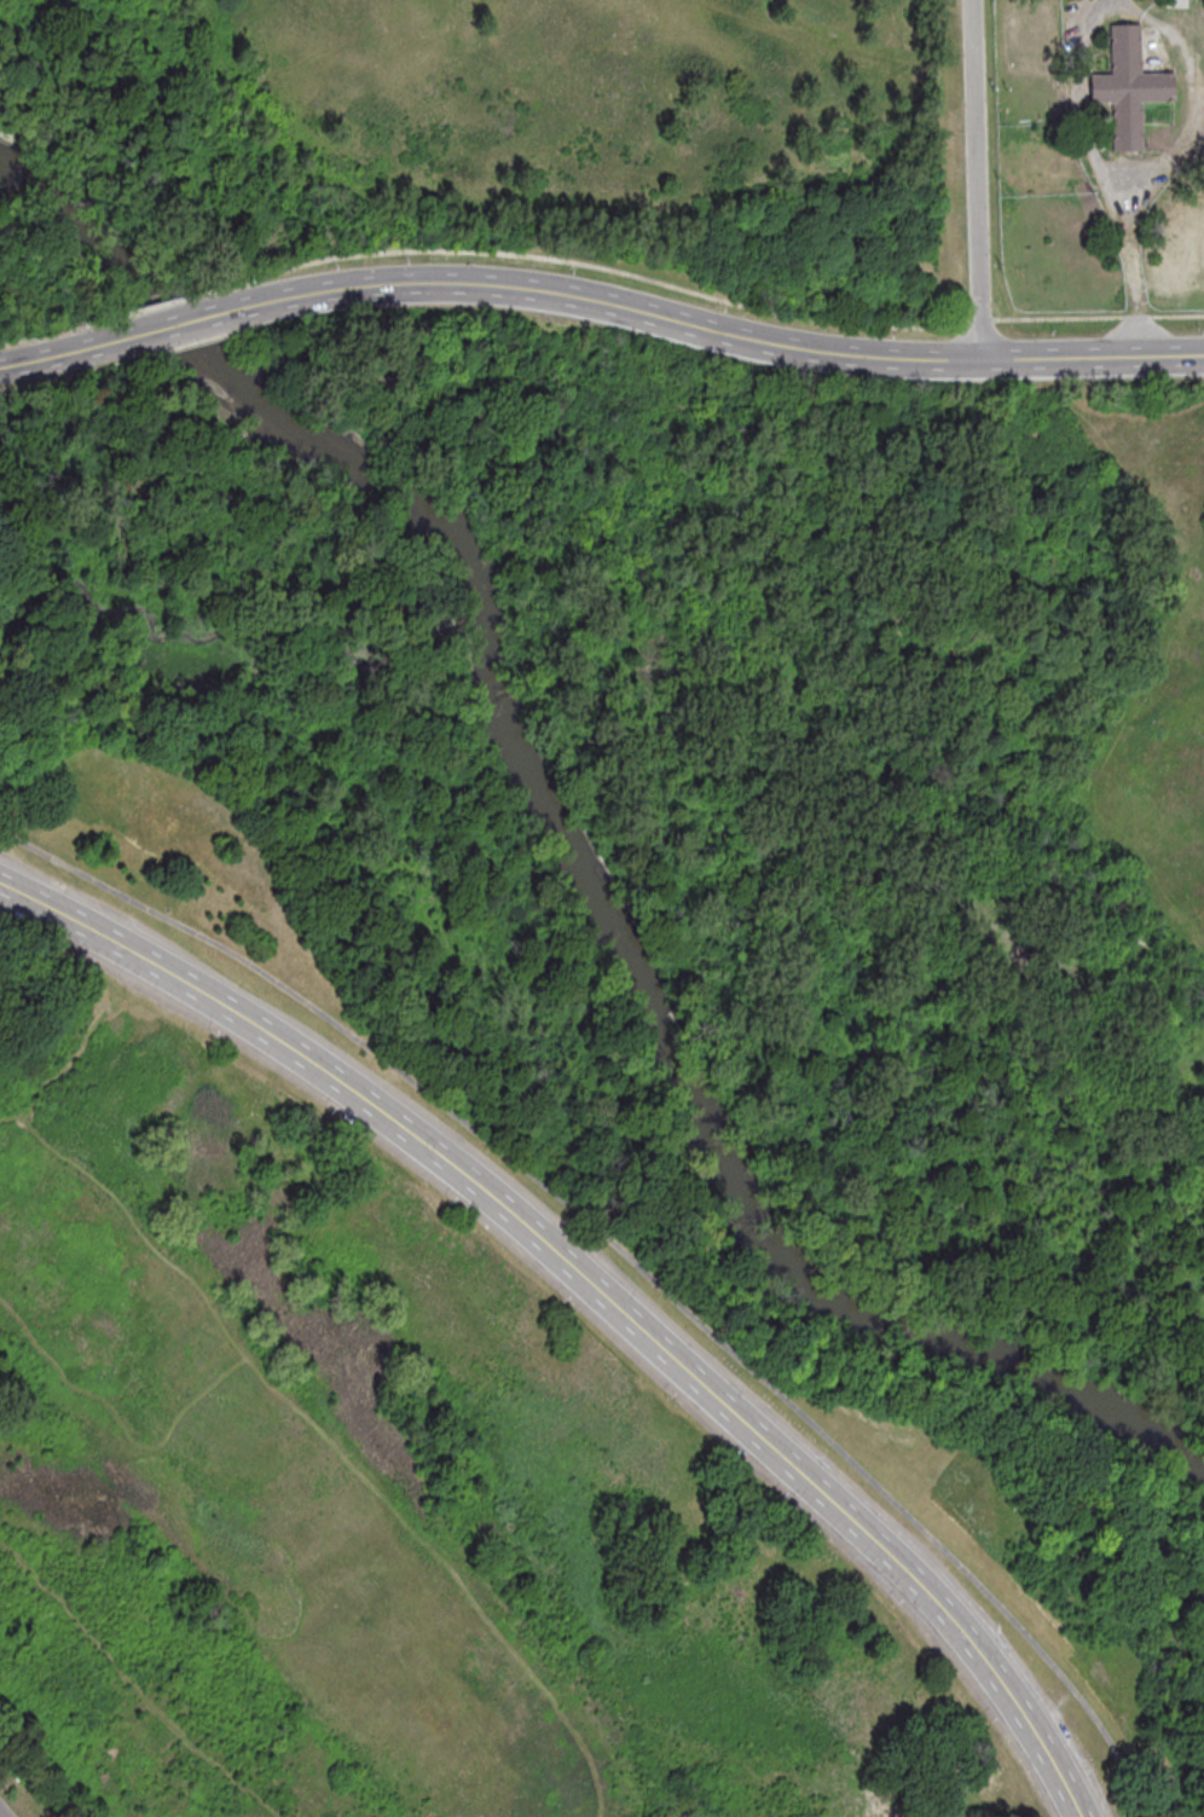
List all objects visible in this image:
building: (1125, 87)
road: (1198, 98)
road: (1202, 100)
park: (614, 146)
road: (1106, 172)
road: (974, 179)
road: (696, 293)
road: (157, 306)
road: (174, 324)
road: (706, 329)
road: (59, 334)
road: (193, 343)
road: (68, 351)
road: (76, 374)
river: (243, 398)
road: (843, 446)
building: (662, 838)
street lamp: (210, 1038)
road: (82, 1041)
park: (598, 1086)
street lamp: (328, 1116)
river: (722, 1157)
road: (615, 1180)
street lamp: (447, 1206)
road: (630, 1261)
road: (594, 1290)
street lamp: (560, 1303)
street lamp: (665, 1401)
road: (122, 1427)
road: (329, 1442)
street lamp: (777, 1500)
street lamp: (892, 1607)
road: (132, 1683)
street lamp: (986, 1724)

